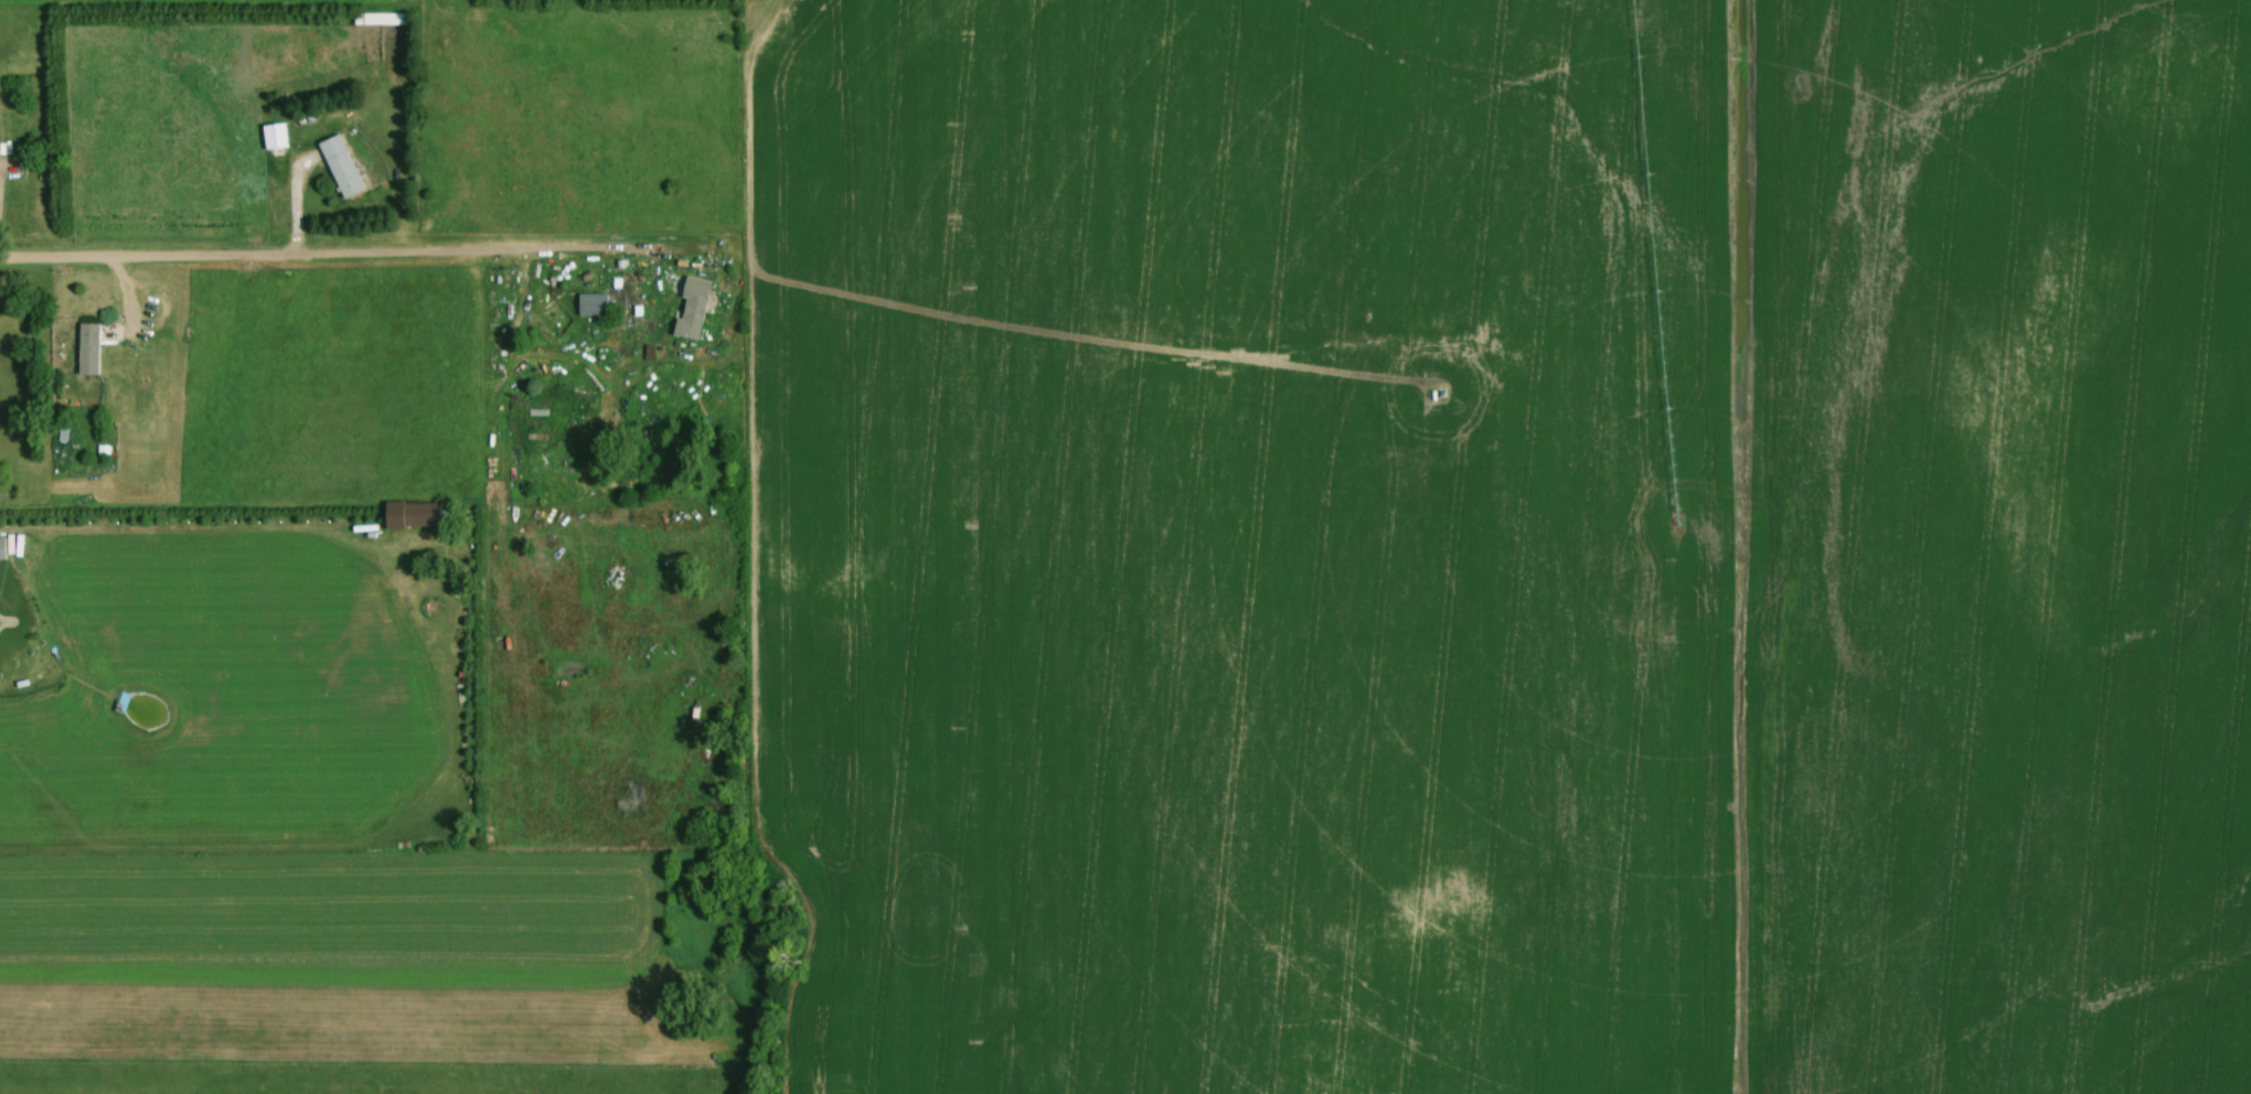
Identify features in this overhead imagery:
building: (376, 18)
building: (271, 136)
building: (338, 165)
road: (306, 255)
building: (589, 304)
building: (690, 309)
building: (86, 350)
building: (418, 514)
building: (0, 548)

